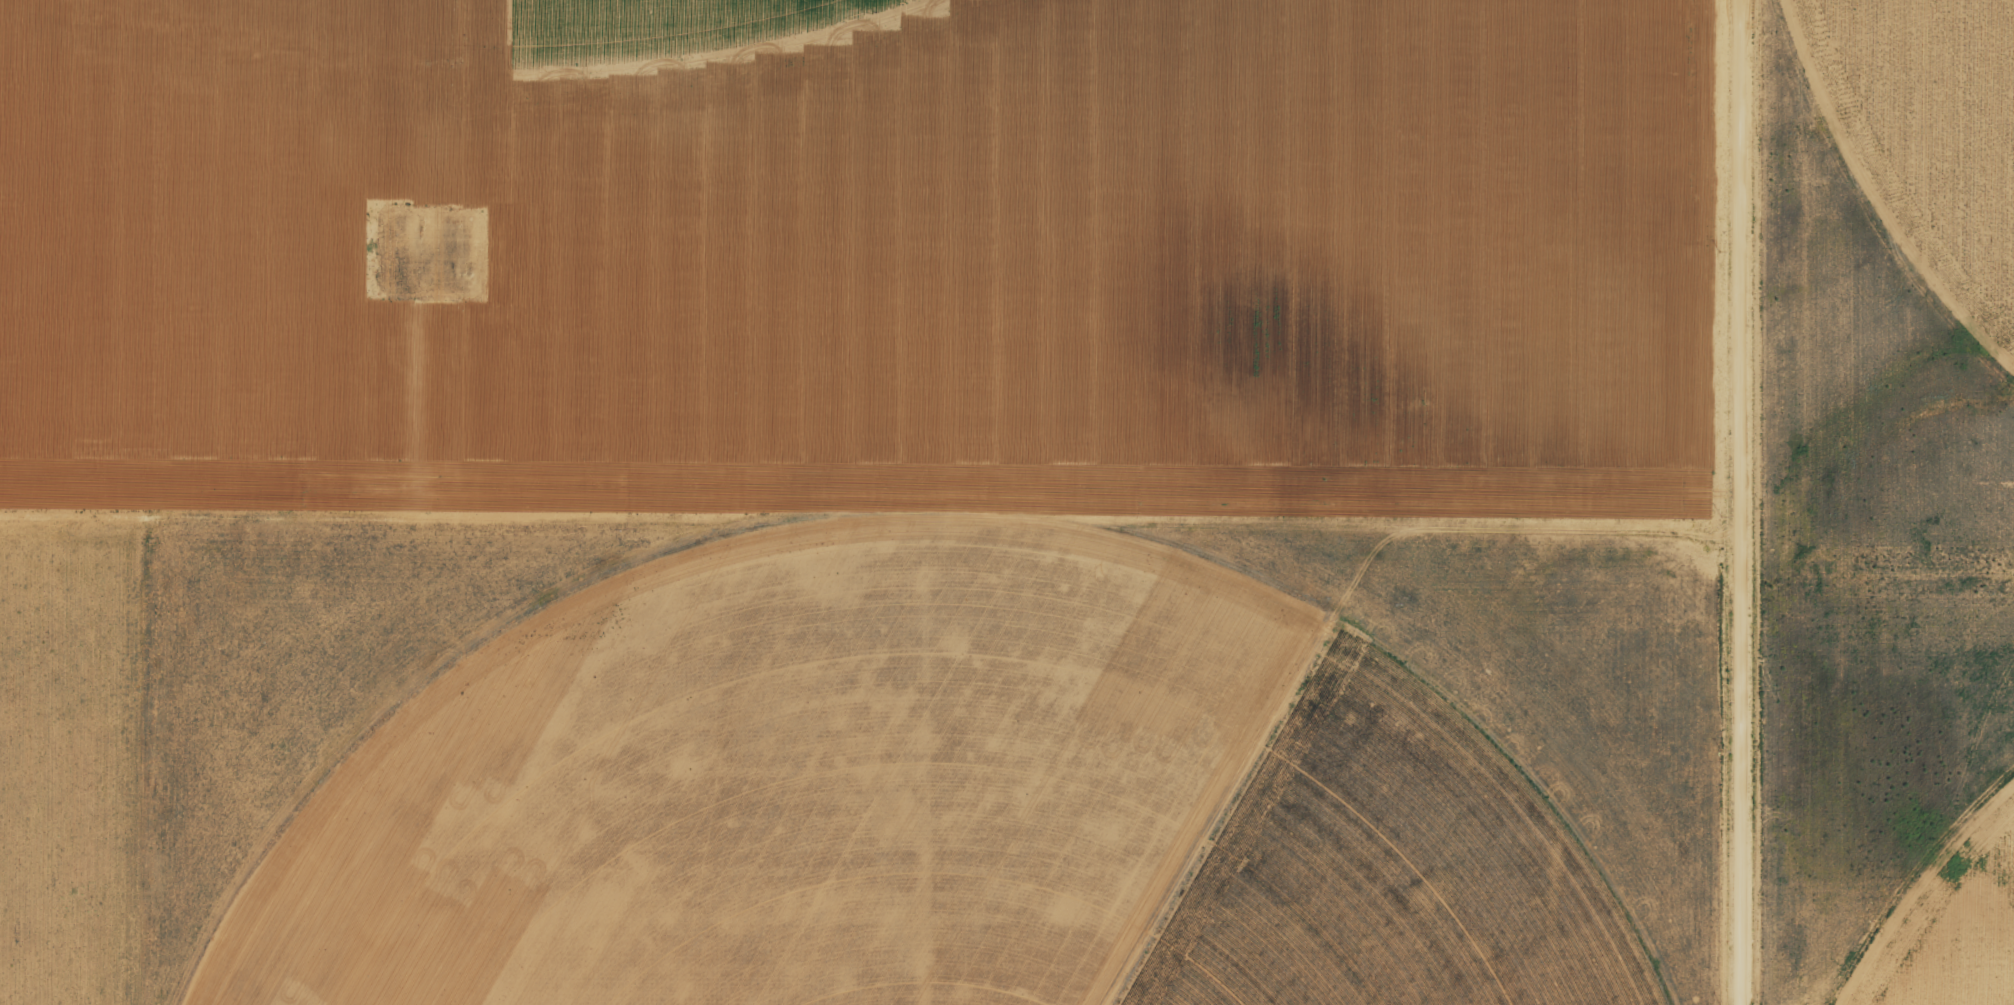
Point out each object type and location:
road: (1764, 502)
road: (1889, 904)

